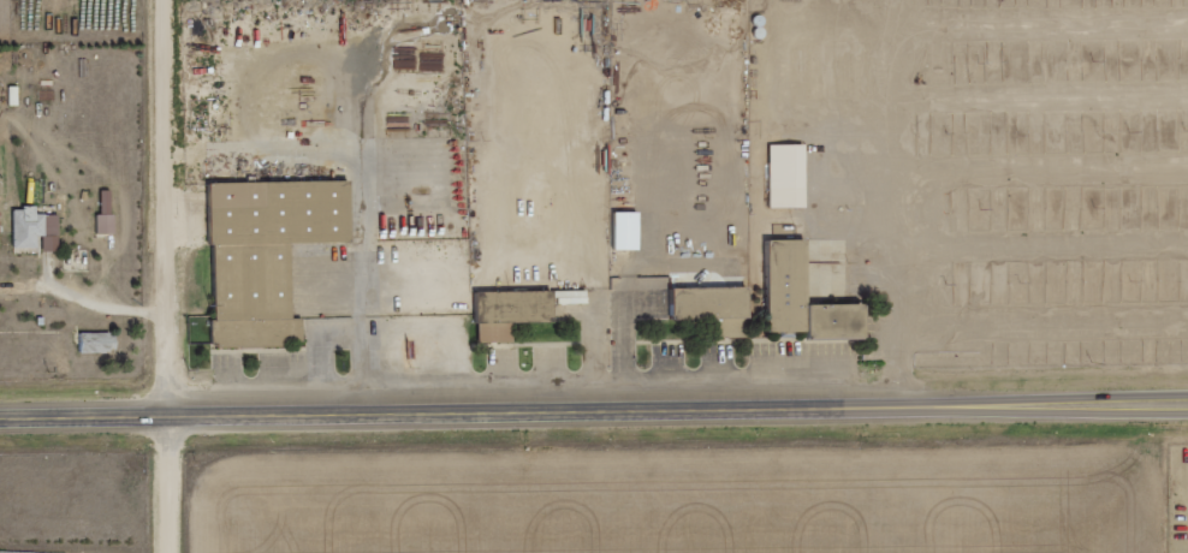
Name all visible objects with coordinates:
building: (786, 174)
road: (172, 208)
building: (105, 224)
building: (35, 228)
building: (625, 230)
building: (267, 254)
building: (803, 297)
building: (708, 302)
building: (517, 310)
building: (725, 328)
building: (99, 341)
road: (594, 411)
road: (176, 484)

